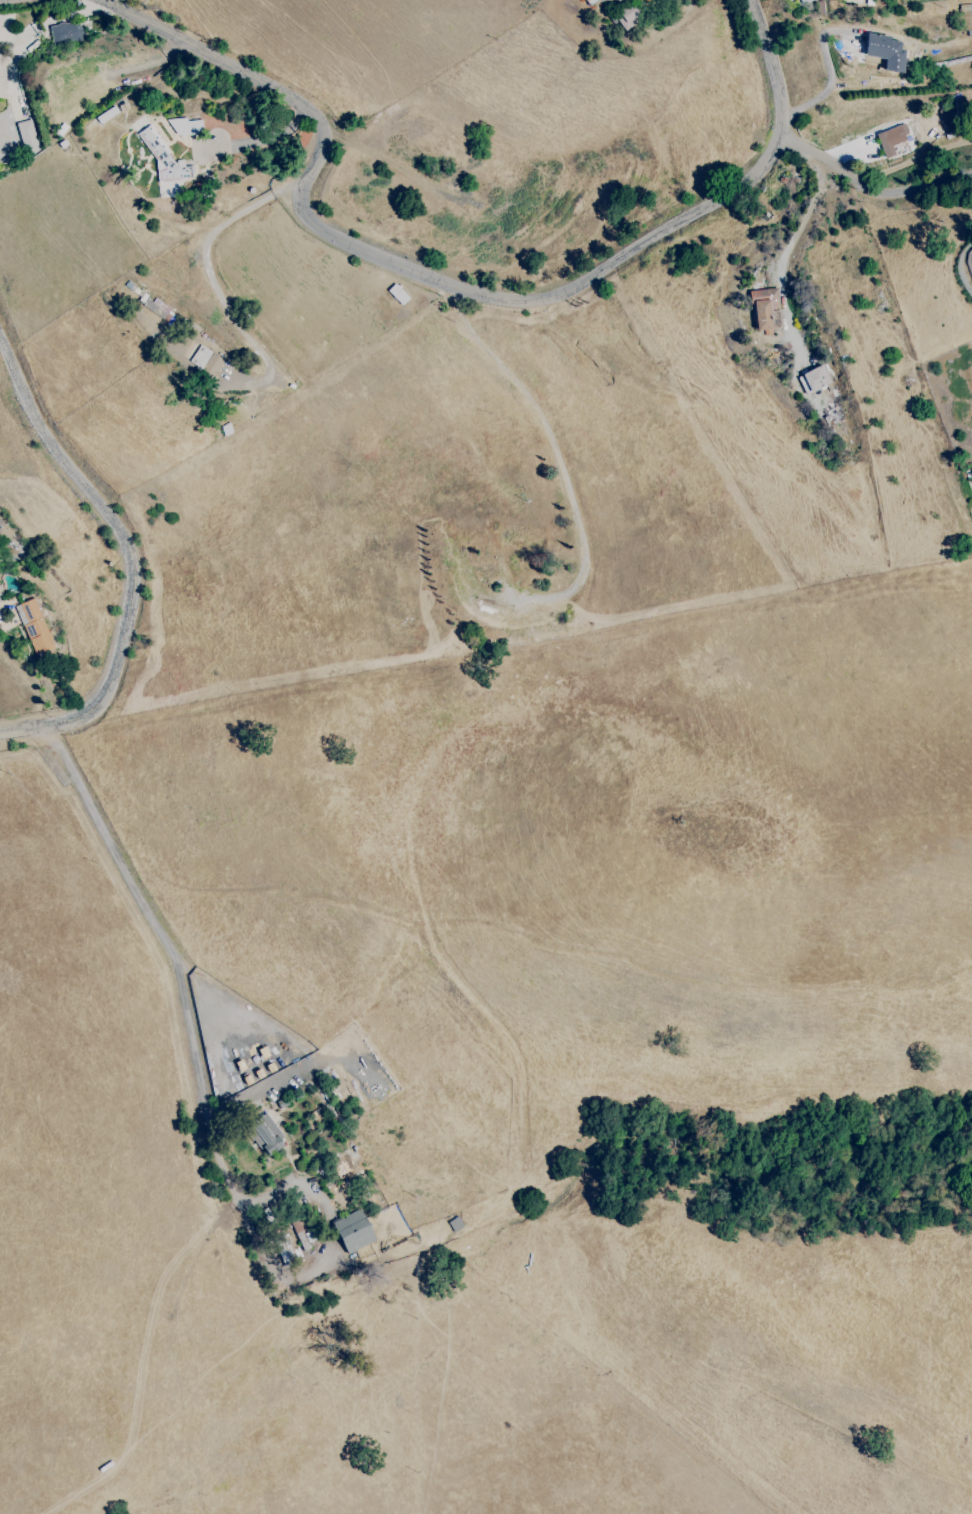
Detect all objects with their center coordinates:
building: (803, 1)
building: (627, 16)
building: (1, 20)
building: (65, 32)
building: (884, 51)
building: (2, 75)
road: (829, 81)
building: (185, 127)
building: (27, 137)
building: (893, 141)
building: (163, 157)
road: (869, 189)
road: (785, 253)
road: (210, 280)
road: (454, 287)
building: (157, 308)
building: (764, 309)
building: (206, 361)
building: (813, 380)
building: (834, 415)
road: (557, 454)
building: (5, 532)
road: (130, 557)
building: (46, 572)
building: (0, 588)
building: (35, 627)
road: (152, 922)
building: (264, 1135)
road: (290, 1187)
building: (353, 1231)
building: (284, 1250)
road: (274, 1270)
road: (145, 1330)

